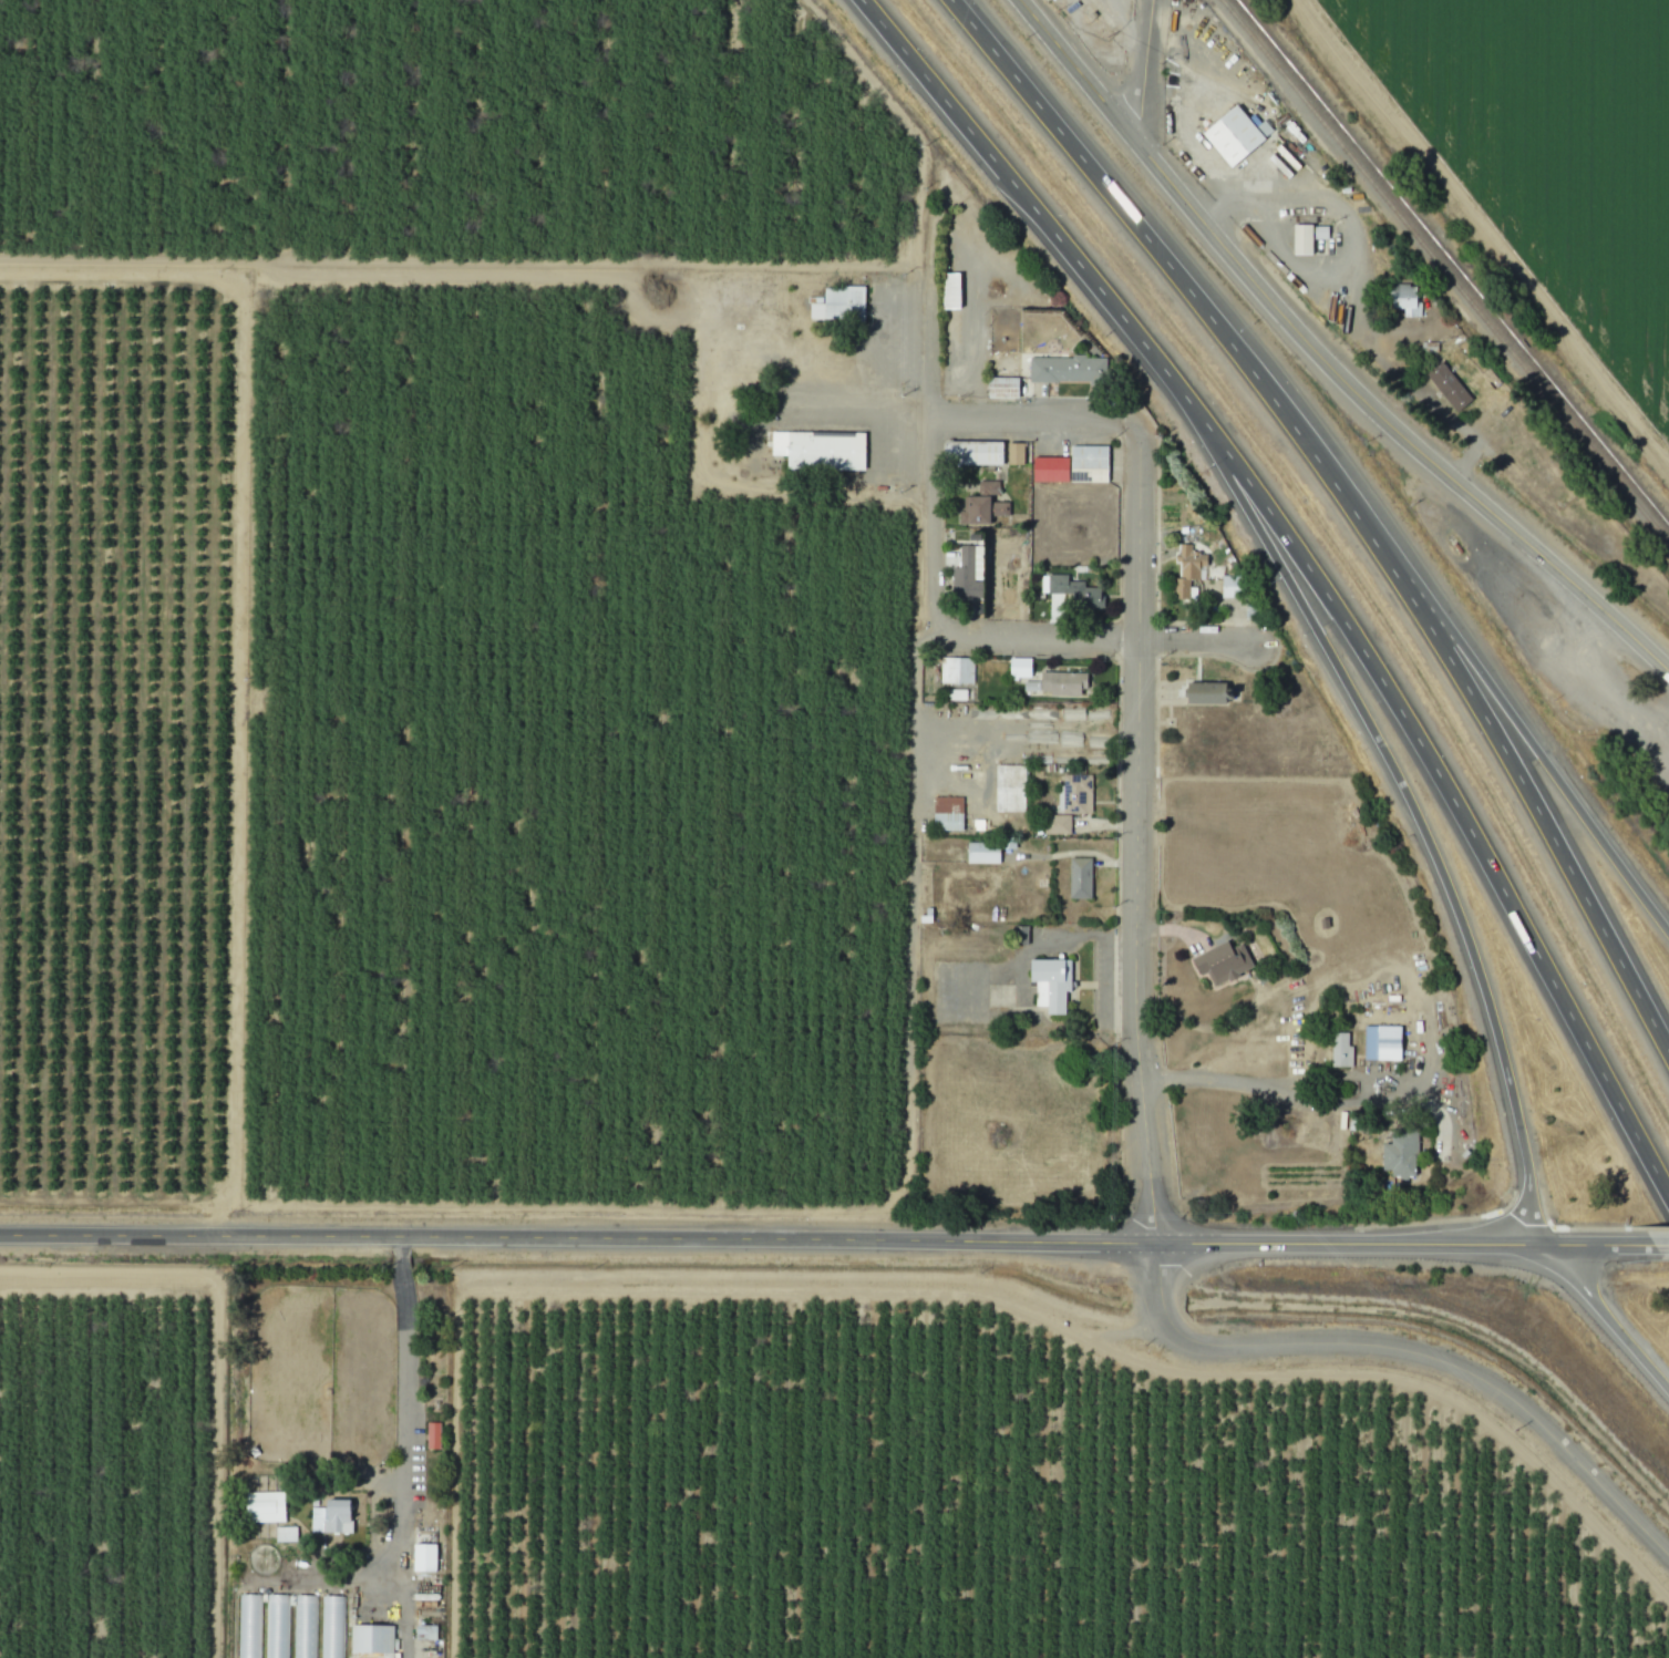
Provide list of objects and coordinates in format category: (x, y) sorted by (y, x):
road: (1140, 71)
building: (1237, 136)
building: (1306, 241)
railway: (1444, 268)
building: (841, 303)
building: (1412, 303)
road: (1367, 329)
road: (1317, 360)
building: (1069, 370)
building: (1452, 388)
road: (865, 392)
road: (1038, 422)
building: (821, 450)
building: (987, 454)
road: (938, 476)
road: (1345, 500)
building: (981, 504)
building: (1186, 560)
road: (1313, 566)
building: (1074, 591)
road: (1093, 637)
building: (1022, 668)
building: (956, 670)
building: (1068, 684)
road: (1507, 697)
building: (1012, 789)
building: (948, 814)
road: (1418, 815)
building: (1057, 824)
road: (1143, 835)
building: (985, 853)
road: (1076, 854)
building: (1081, 878)
building: (1225, 964)
building: (1052, 986)
building: (1384, 1043)
building: (1342, 1050)
road: (1321, 1102)
building: (1394, 1153)
road: (1665, 1238)
road: (830, 1240)
road: (1610, 1310)
road: (1411, 1357)
building: (434, 1428)
road: (401, 1448)
building: (271, 1515)
building: (427, 1557)
building: (248, 1626)
building: (288, 1627)
building: (330, 1627)

